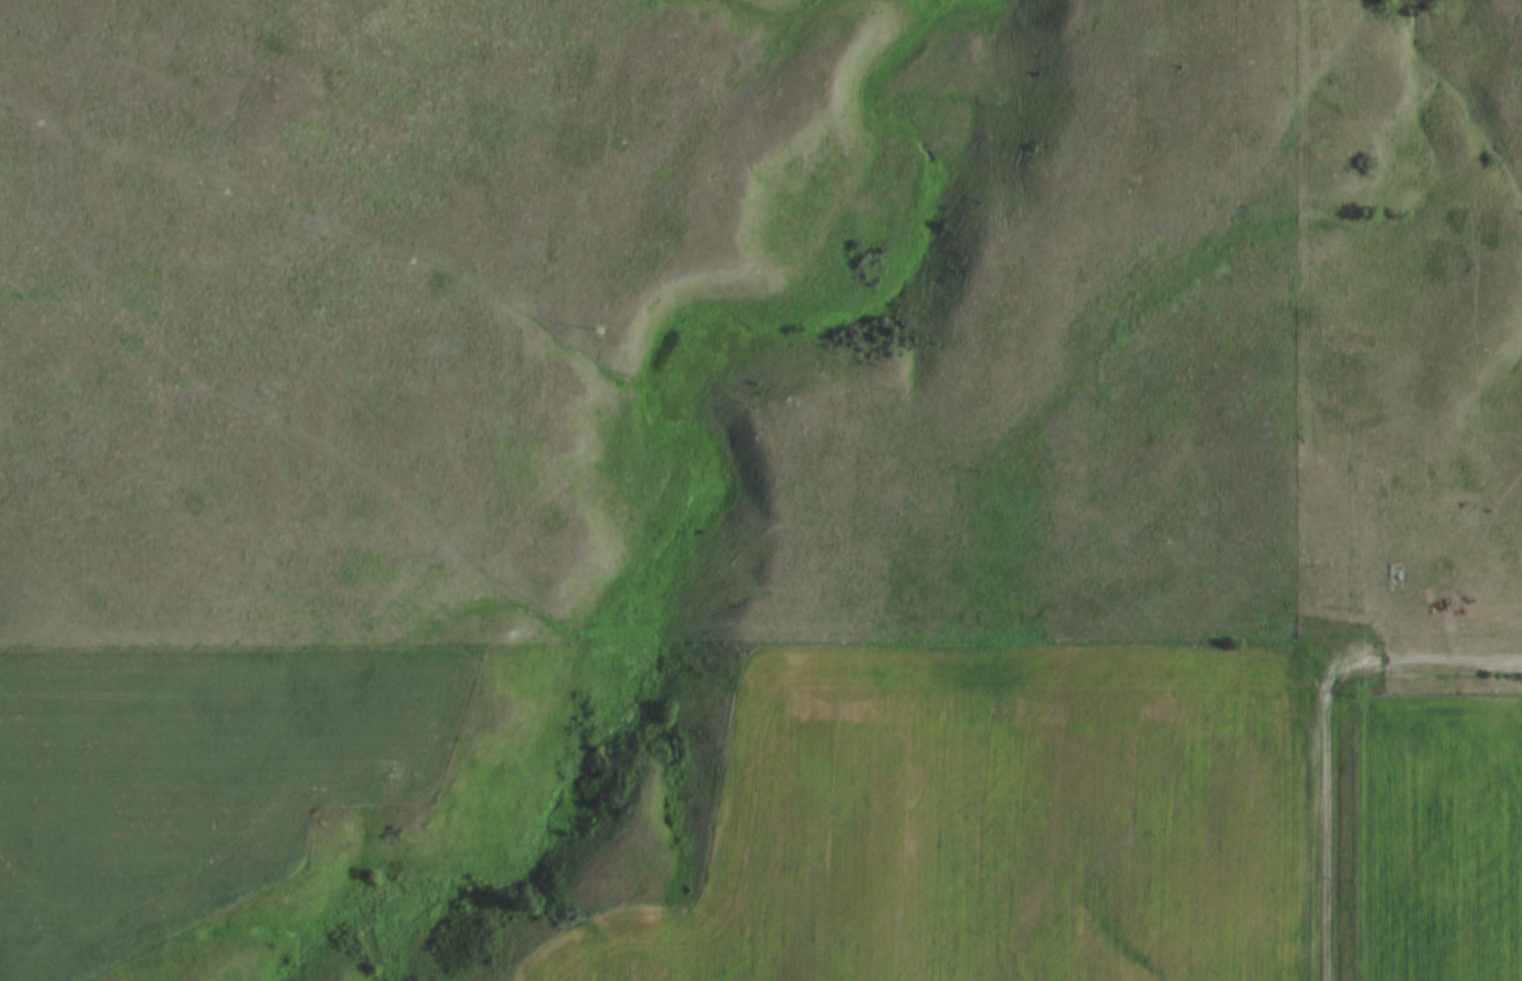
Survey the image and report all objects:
road: (1434, 656)
road: (1322, 822)

